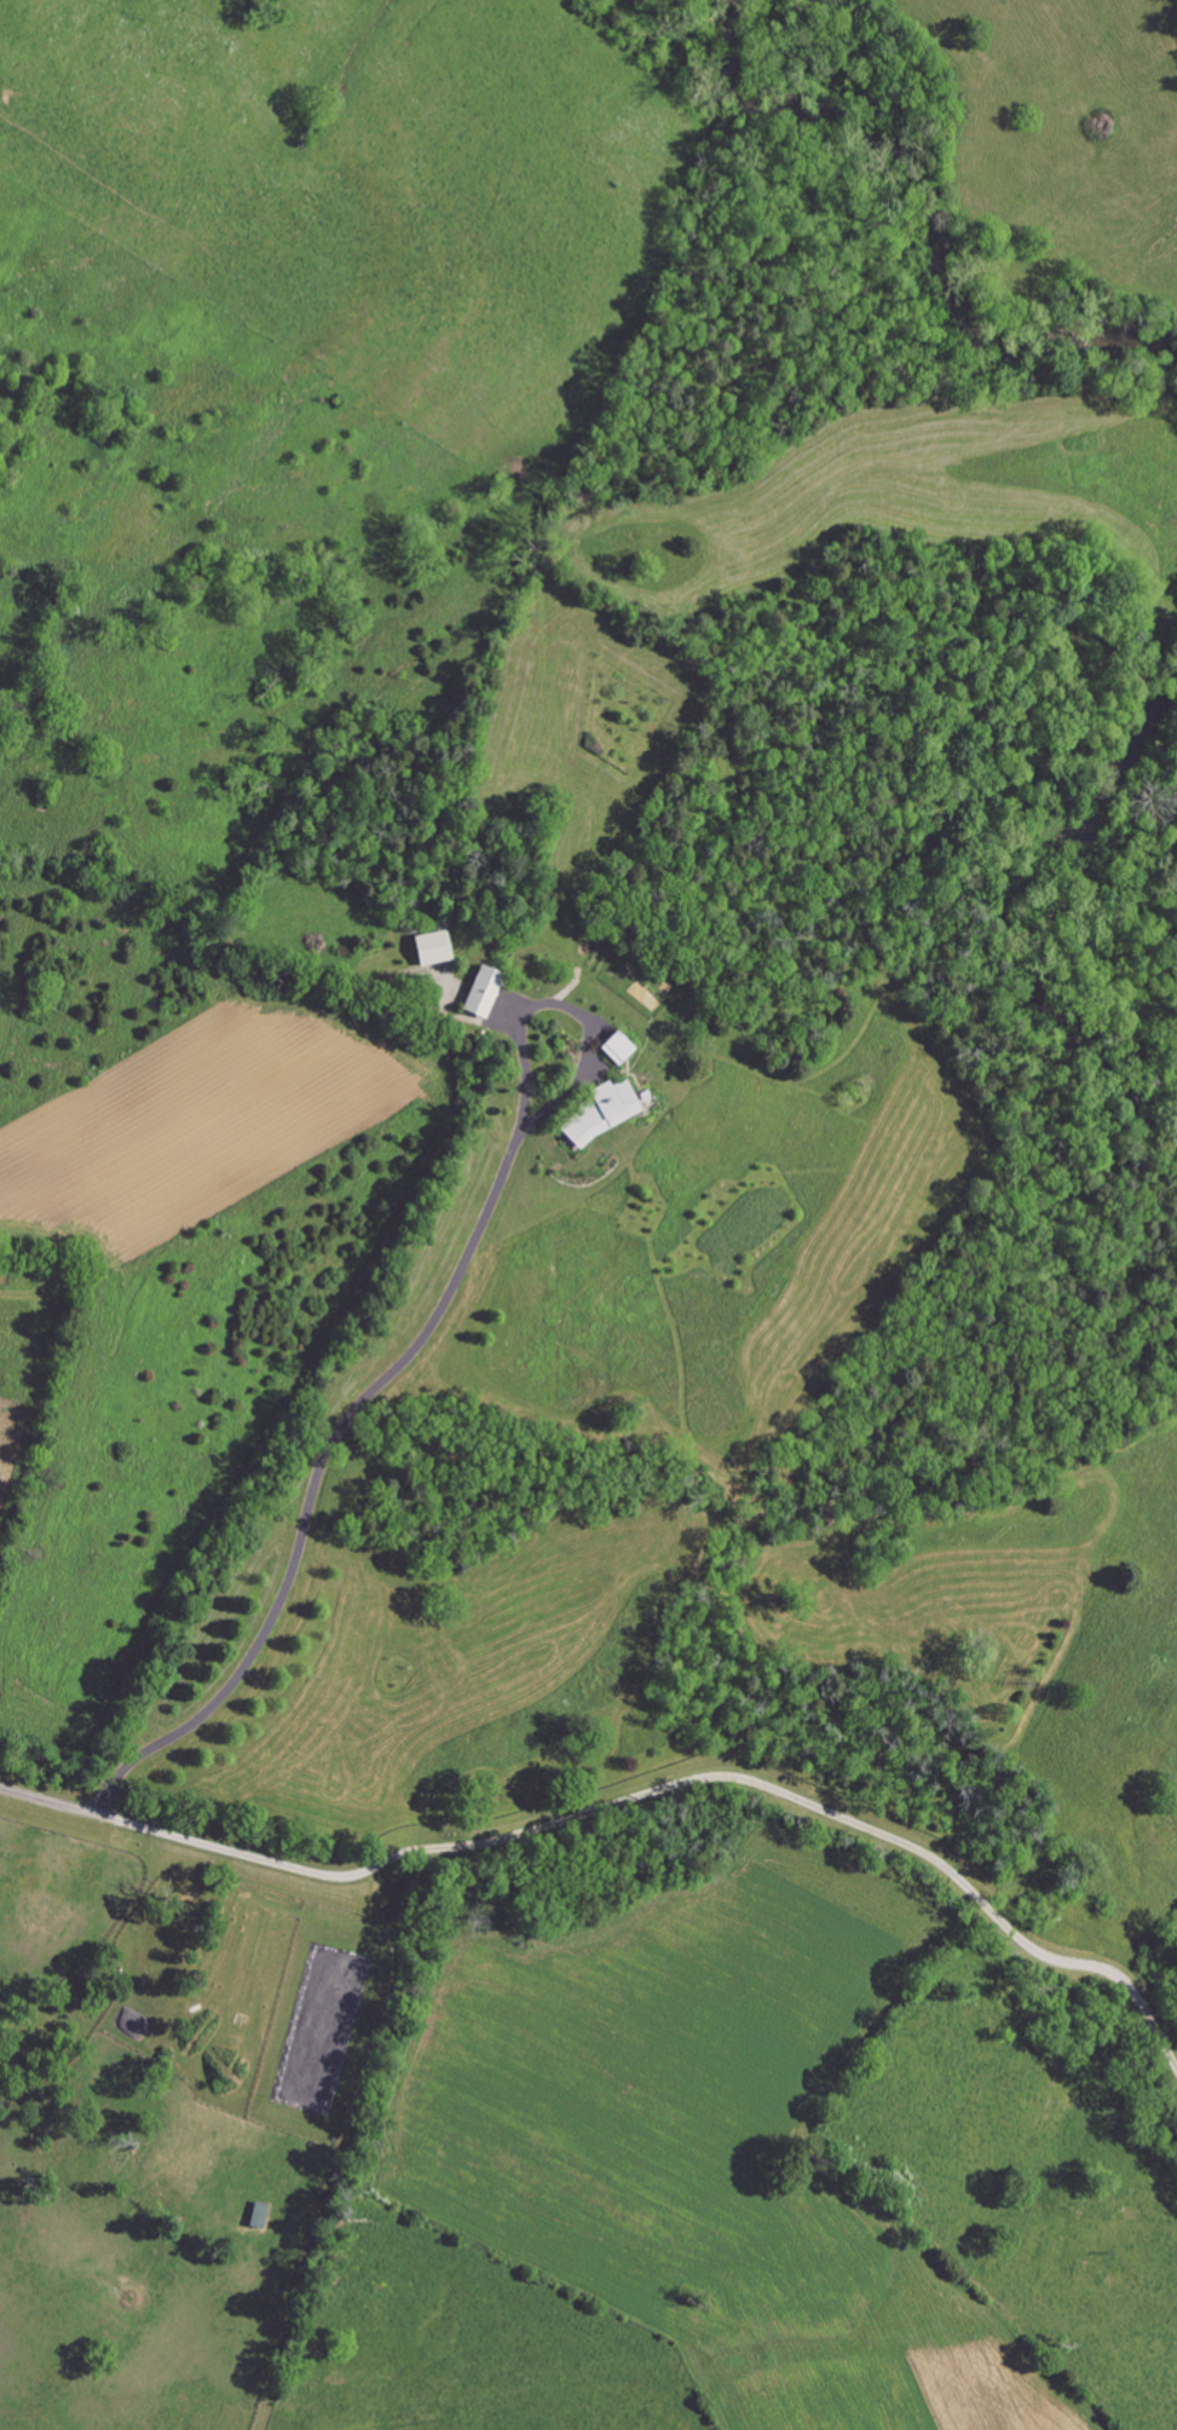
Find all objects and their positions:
building: (431, 950)
building: (481, 993)
building: (616, 1049)
building: (601, 1113)
road: (406, 1351)
road: (682, 1770)
road: (46, 1796)
building: (258, 2215)

